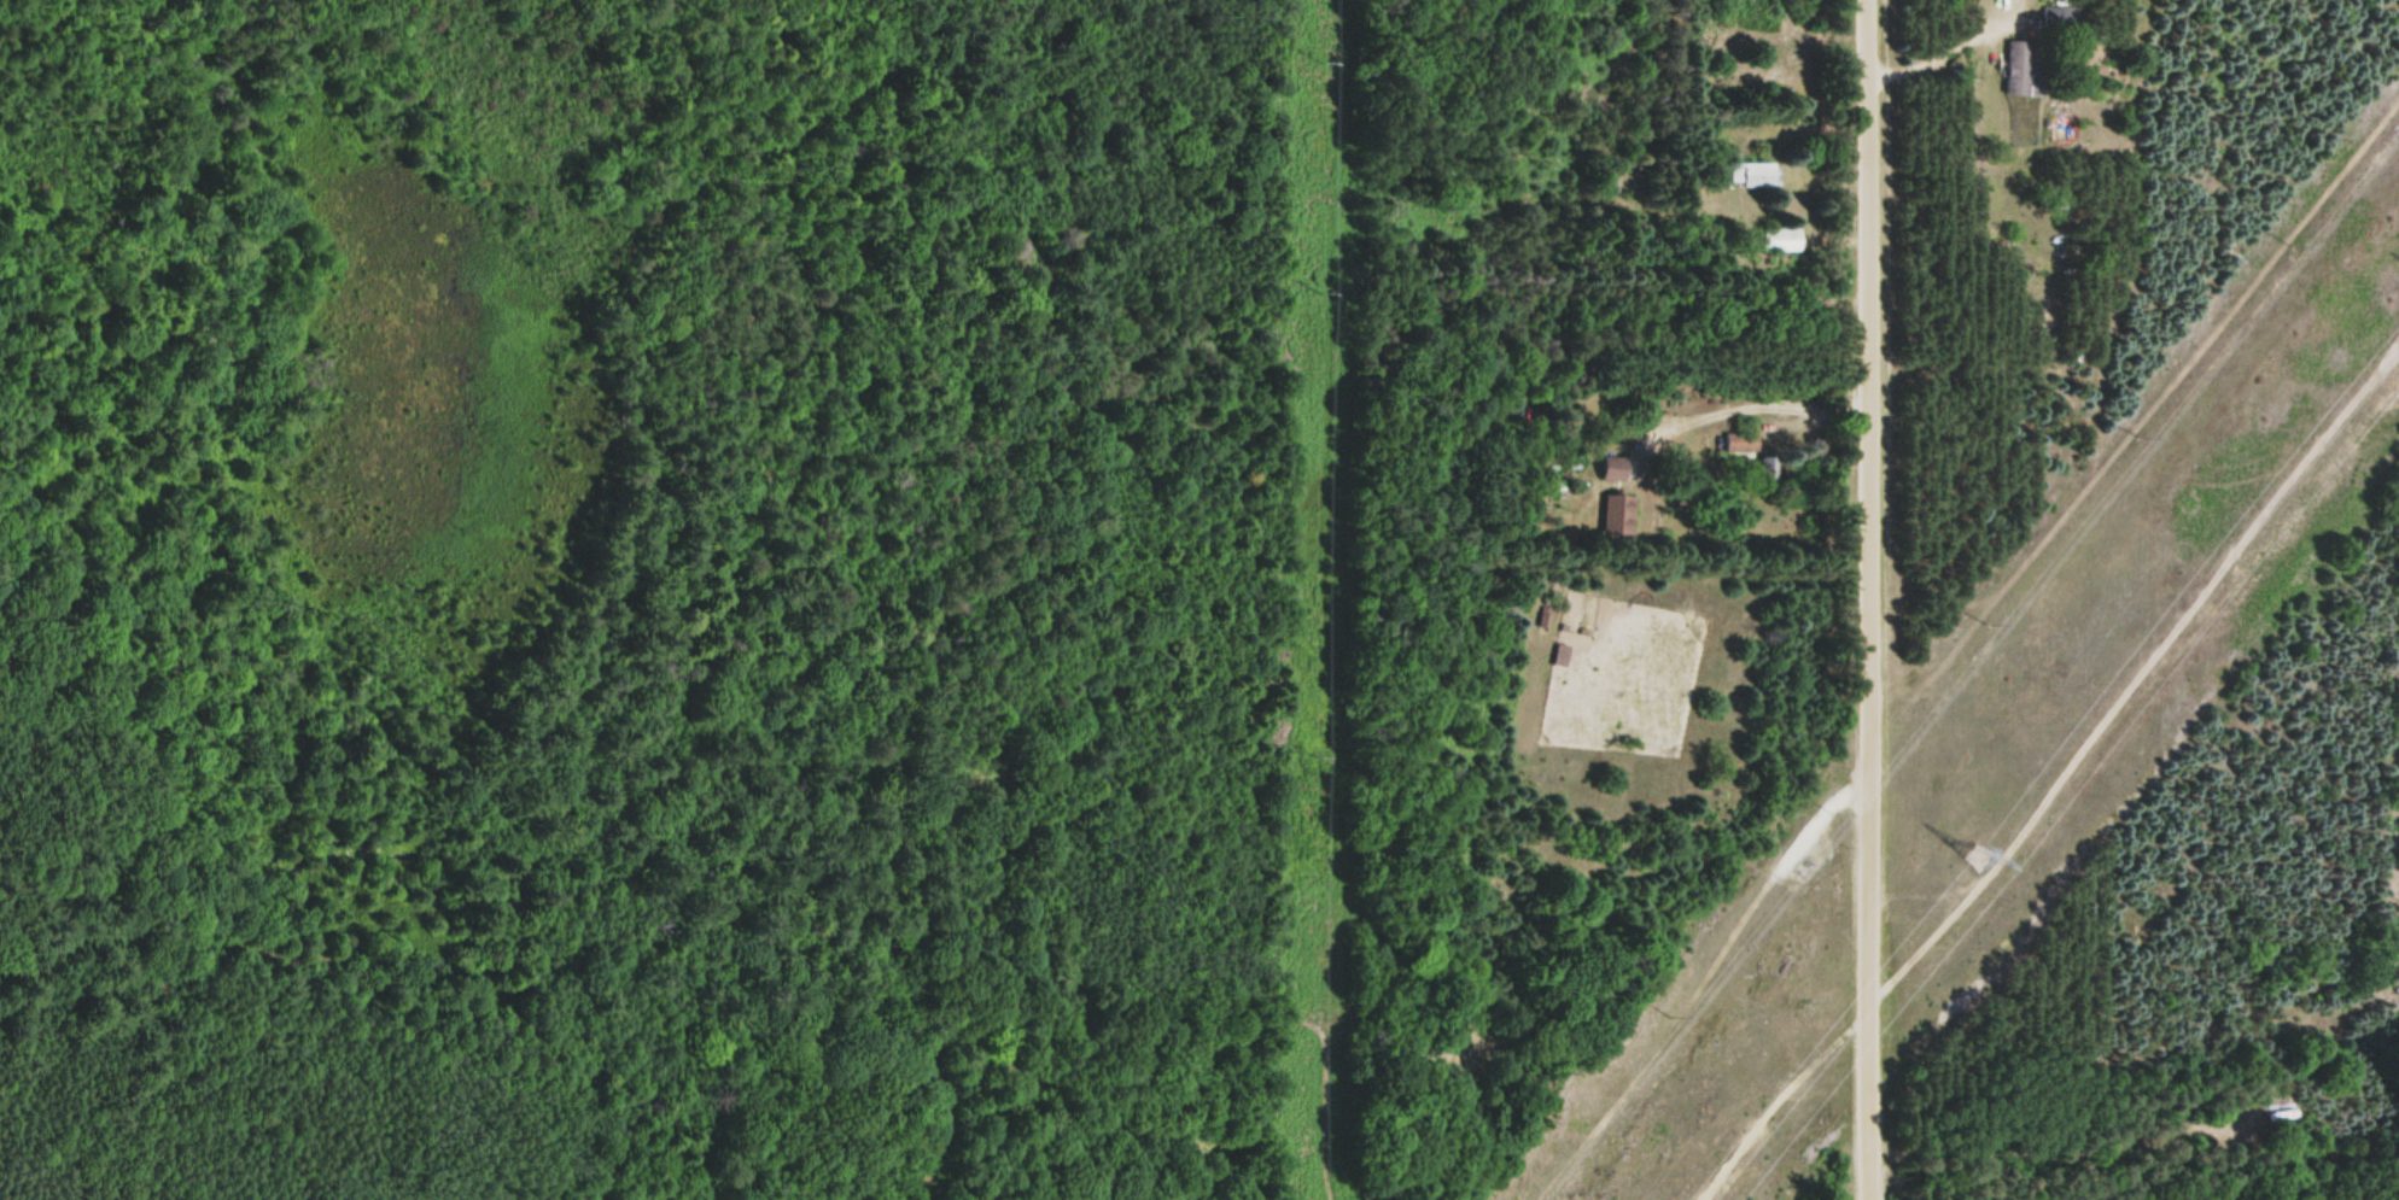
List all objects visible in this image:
building: (2020, 70)
building: (1753, 176)
building: (1779, 241)
building: (1739, 443)
building: (1616, 473)
road: (1862, 599)
power tower: (1977, 853)
building: (2281, 1117)

